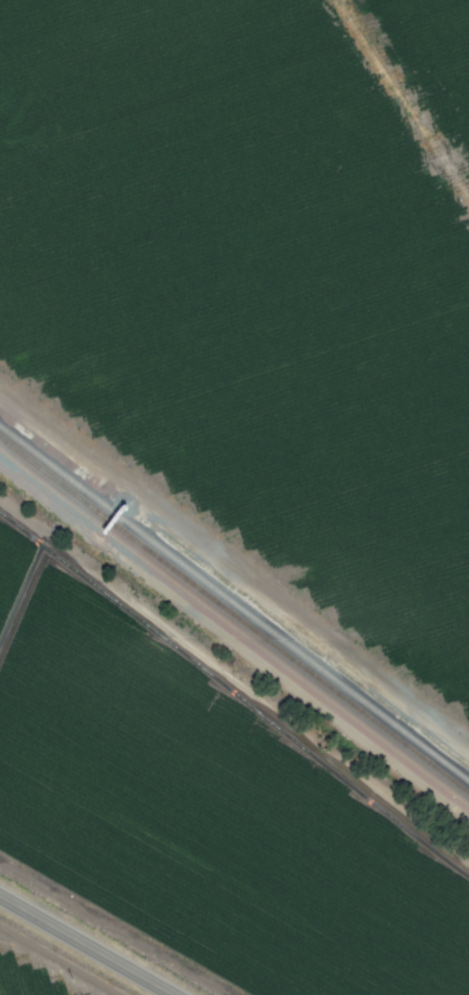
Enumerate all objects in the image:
railway: (64, 478)
railway: (64, 485)
railway: (233, 602)
railway: (234, 629)
railway: (298, 663)
road: (86, 945)

